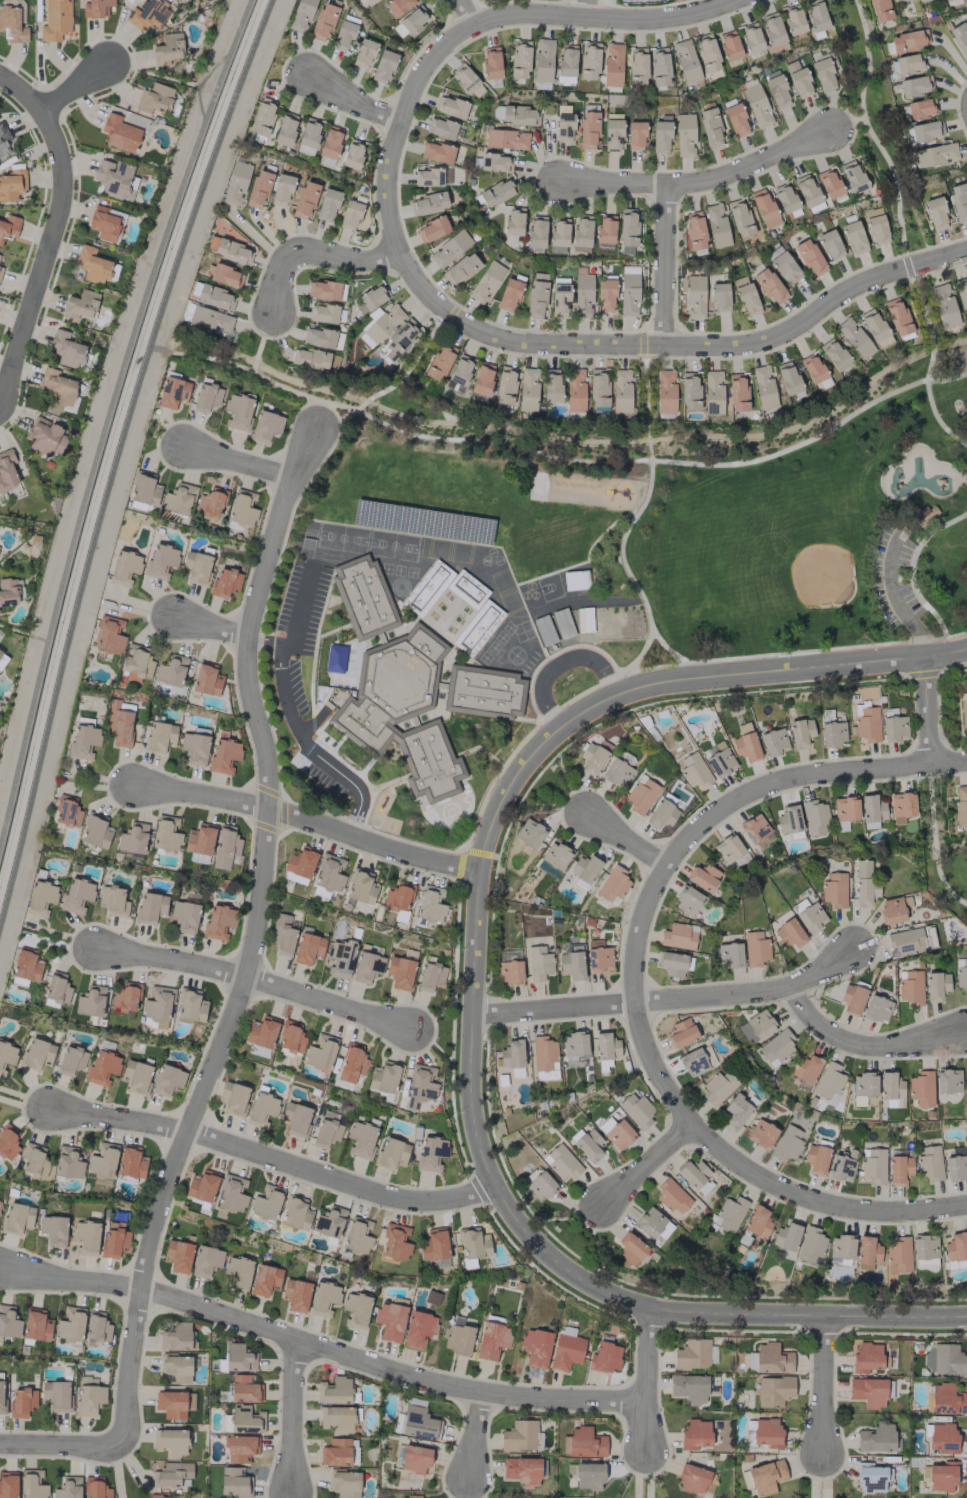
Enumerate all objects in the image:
building: (894, 0)
building: (919, 0)
building: (368, 1)
building: (949, 2)
building: (397, 7)
road: (589, 7)
building: (96, 8)
building: (879, 10)
road: (465, 11)
building: (147, 14)
road: (598, 14)
building: (301, 15)
building: (815, 15)
building: (413, 19)
building: (793, 19)
building: (55, 20)
building: (323, 22)
building: (398, 29)
building: (772, 29)
building: (343, 35)
building: (751, 38)
building: (959, 39)
building: (909, 40)
building: (729, 45)
building: (167, 49)
building: (363, 53)
building: (706, 53)
building: (519, 59)
building: (543, 60)
building: (588, 60)
building: (685, 61)
building: (491, 62)
building: (908, 63)
building: (565, 64)
building: (612, 64)
building: (383, 66)
building: (637, 66)
building: (659, 66)
road: (150, 74)
building: (823, 74)
building: (464, 77)
building: (798, 80)
road: (197, 83)
road: (72, 85)
building: (915, 85)
building: (777, 90)
road: (20, 92)
building: (154, 98)
road: (351, 102)
building: (757, 106)
building: (450, 107)
building: (920, 108)
building: (519, 115)
building: (263, 116)
building: (735, 120)
road: (398, 123)
building: (564, 126)
building: (710, 127)
building: (440, 128)
building: (285, 129)
building: (588, 130)
building: (926, 131)
building: (119, 133)
building: (612, 134)
building: (635, 134)
building: (661, 135)
building: (684, 135)
building: (308, 136)
building: (3, 139)
building: (506, 139)
building: (330, 142)
building: (437, 152)
building: (352, 154)
building: (934, 155)
building: (495, 162)
road: (206, 168)
road: (891, 172)
building: (852, 176)
building: (428, 177)
building: (114, 178)
road: (699, 181)
building: (236, 182)
building: (828, 183)
building: (12, 185)
building: (258, 189)
building: (281, 189)
building: (806, 190)
building: (496, 193)
building: (784, 197)
building: (304, 200)
building: (958, 201)
building: (428, 203)
building: (327, 204)
building: (764, 208)
building: (350, 213)
building: (935, 213)
building: (739, 217)
building: (513, 221)
building: (105, 223)
building: (716, 225)
building: (9, 226)
building: (875, 226)
building: (627, 227)
building: (604, 228)
building: (432, 229)
building: (536, 231)
building: (558, 231)
building: (694, 231)
building: (581, 233)
building: (853, 237)
building: (211, 243)
building: (829, 244)
building: (449, 248)
building: (231, 251)
road: (45, 256)
building: (809, 257)
road: (342, 259)
road: (664, 264)
building: (92, 265)
building: (785, 267)
building: (0, 269)
building: (461, 269)
building: (224, 275)
road: (276, 281)
building: (485, 282)
building: (768, 284)
building: (323, 289)
building: (628, 294)
building: (962, 294)
building: (508, 295)
building: (536, 295)
building: (582, 295)
building: (605, 295)
building: (745, 295)
building: (212, 296)
building: (719, 296)
building: (694, 297)
building: (559, 298)
building: (370, 299)
building: (80, 305)
building: (945, 308)
building: (325, 313)
building: (897, 316)
building: (210, 320)
building: (380, 325)
building: (874, 328)
building: (318, 337)
building: (853, 338)
road: (259, 339)
building: (398, 340)
road: (675, 344)
building: (66, 349)
building: (833, 354)
building: (309, 359)
building: (439, 361)
building: (812, 368)
building: (459, 370)
building: (482, 378)
building: (787, 378)
road: (391, 384)
building: (58, 386)
building: (505, 386)
building: (763, 387)
building: (598, 388)
building: (527, 389)
building: (574, 390)
building: (620, 390)
building: (664, 391)
building: (689, 391)
building: (172, 392)
building: (712, 392)
building: (737, 392)
building: (207, 396)
road: (646, 398)
road: (929, 400)
building: (238, 411)
road: (107, 414)
road: (395, 422)
building: (265, 426)
building: (45, 436)
road: (648, 450)
road: (237, 462)
building: (7, 470)
building: (145, 489)
building: (178, 499)
building: (211, 502)
building: (242, 508)
park: (754, 514)
building: (924, 515)
park: (341, 537)
park: (809, 538)
road: (920, 544)
park: (392, 545)
building: (161, 561)
road: (622, 561)
building: (124, 567)
building: (196, 567)
park: (819, 575)
road: (888, 578)
parking lot: (891, 578)
building: (574, 580)
building: (225, 582)
building: (426, 587)
building: (466, 589)
building: (8, 591)
road: (927, 607)
road: (299, 608)
building: (563, 623)
road: (69, 624)
building: (477, 627)
road: (210, 628)
building: (543, 630)
road: (24, 633)
building: (108, 635)
road: (919, 635)
road: (265, 641)
building: (0, 651)
road: (559, 661)
building: (137, 663)
building: (171, 671)
building: (206, 679)
building: (409, 686)
road: (926, 710)
building: (963, 712)
building: (865, 722)
building: (119, 723)
building: (894, 728)
building: (800, 732)
building: (832, 733)
building: (160, 736)
building: (83, 741)
building: (745, 742)
building: (774, 742)
building: (194, 748)
road: (305, 749)
building: (223, 755)
building: (591, 759)
building: (720, 763)
building: (694, 770)
building: (616, 772)
road: (802, 777)
building: (641, 795)
building: (960, 805)
building: (901, 807)
building: (66, 811)
building: (844, 811)
building: (871, 811)
building: (662, 814)
building: (814, 817)
building: (788, 819)
road: (304, 820)
building: (753, 828)
building: (95, 830)
building: (529, 833)
building: (165, 835)
building: (132, 838)
road: (933, 840)
road: (626, 841)
building: (199, 843)
building: (225, 846)
building: (728, 848)
building: (553, 859)
building: (301, 862)
building: (584, 870)
building: (329, 873)
building: (703, 877)
building: (613, 884)
building: (863, 884)
building: (361, 887)
building: (834, 890)
building: (76, 895)
building: (40, 897)
building: (397, 898)
building: (688, 900)
building: (112, 901)
building: (430, 905)
building: (798, 905)
building: (150, 907)
building: (893, 909)
building: (184, 916)
building: (810, 917)
building: (218, 922)
building: (789, 933)
building: (282, 935)
building: (677, 936)
road: (251, 940)
building: (911, 940)
building: (307, 948)
building: (755, 948)
building: (727, 954)
building: (340, 957)
building: (598, 957)
building: (538, 963)
building: (572, 963)
building: (26, 967)
building: (366, 967)
building: (400, 972)
building: (962, 975)
building: (430, 976)
road: (254, 979)
building: (936, 985)
building: (909, 986)
building: (57, 990)
road: (470, 996)
building: (125, 997)
road: (634, 998)
building: (852, 999)
building: (90, 1001)
road: (666, 1002)
building: (190, 1005)
building: (156, 1007)
building: (876, 1009)
building: (755, 1026)
building: (261, 1032)
building: (682, 1033)
building: (290, 1038)
building: (574, 1045)
building: (776, 1047)
building: (605, 1049)
road: (867, 1049)
building: (320, 1052)
building: (37, 1054)
building: (6, 1056)
building: (512, 1057)
building: (544, 1058)
building: (71, 1059)
building: (695, 1061)
building: (351, 1063)
building: (102, 1067)
building: (807, 1067)
building: (136, 1076)
building: (384, 1078)
building: (167, 1080)
building: (947, 1080)
building: (966, 1082)
building: (828, 1083)
building: (419, 1086)
building: (890, 1086)
building: (718, 1087)
building: (862, 1087)
building: (921, 1088)
building: (232, 1097)
building: (261, 1109)
building: (636, 1110)
building: (736, 1111)
building: (295, 1118)
building: (327, 1130)
building: (615, 1132)
building: (761, 1134)
building: (361, 1139)
building: (7, 1142)
building: (588, 1144)
building: (786, 1144)
building: (958, 1151)
building: (391, 1153)
building: (431, 1153)
road: (271, 1159)
building: (816, 1159)
building: (33, 1160)
building: (102, 1160)
building: (131, 1162)
building: (561, 1162)
building: (68, 1163)
building: (929, 1163)
road: (646, 1164)
building: (873, 1165)
building: (956, 1167)
building: (841, 1168)
building: (898, 1169)
building: (695, 1176)
building: (202, 1186)
building: (540, 1186)
building: (231, 1194)
building: (672, 1196)
building: (266, 1202)
road: (817, 1204)
building: (295, 1213)
building: (729, 1213)
building: (17, 1218)
building: (329, 1222)
building: (757, 1222)
building: (652, 1223)
building: (53, 1230)
building: (356, 1236)
building: (785, 1236)
building: (85, 1237)
building: (114, 1240)
building: (395, 1242)
building: (473, 1243)
building: (434, 1244)
building: (810, 1244)
building: (841, 1247)
building: (924, 1247)
building: (955, 1247)
building: (630, 1248)
building: (866, 1252)
building: (898, 1254)
building: (178, 1256)
building: (206, 1261)
building: (238, 1272)
building: (264, 1280)
building: (296, 1294)
building: (323, 1298)
building: (356, 1310)
building: (389, 1321)
building: (8, 1322)
building: (70, 1324)
building: (36, 1325)
building: (97, 1328)
building: (418, 1329)
building: (174, 1336)
building: (458, 1339)
building: (492, 1340)
road: (318, 1348)
building: (535, 1348)
building: (566, 1351)
building: (692, 1354)
building: (866, 1356)
building: (604, 1357)
building: (238, 1358)
building: (769, 1359)
building: (945, 1360)
building: (176, 1368)
road: (643, 1379)
road: (821, 1384)
building: (244, 1388)
building: (689, 1388)
building: (335, 1391)
building: (773, 1391)
building: (868, 1392)
building: (55, 1395)
building: (1, 1397)
building: (88, 1399)
building: (946, 1399)
building: (21, 1401)
building: (174, 1403)
road: (289, 1415)
building: (337, 1418)
building: (245, 1420)
building: (419, 1424)
building: (767, 1432)
road: (472, 1434)
building: (695, 1434)
building: (520, 1436)
building: (942, 1437)
building: (876, 1438)
building: (170, 1442)
building: (583, 1443)
road: (59, 1445)
building: (239, 1448)
building: (336, 1452)
building: (415, 1459)
building: (522, 1470)
building: (171, 1474)
building: (588, 1475)
building: (942, 1476)
building: (765, 1477)
building: (870, 1478)
building: (694, 1479)
building: (233, 1481)
building: (8, 1484)
building: (31, 1484)
building: (344, 1484)
building: (68, 1488)
building: (96, 1488)
building: (158, 1496)
building: (409, 1497)

